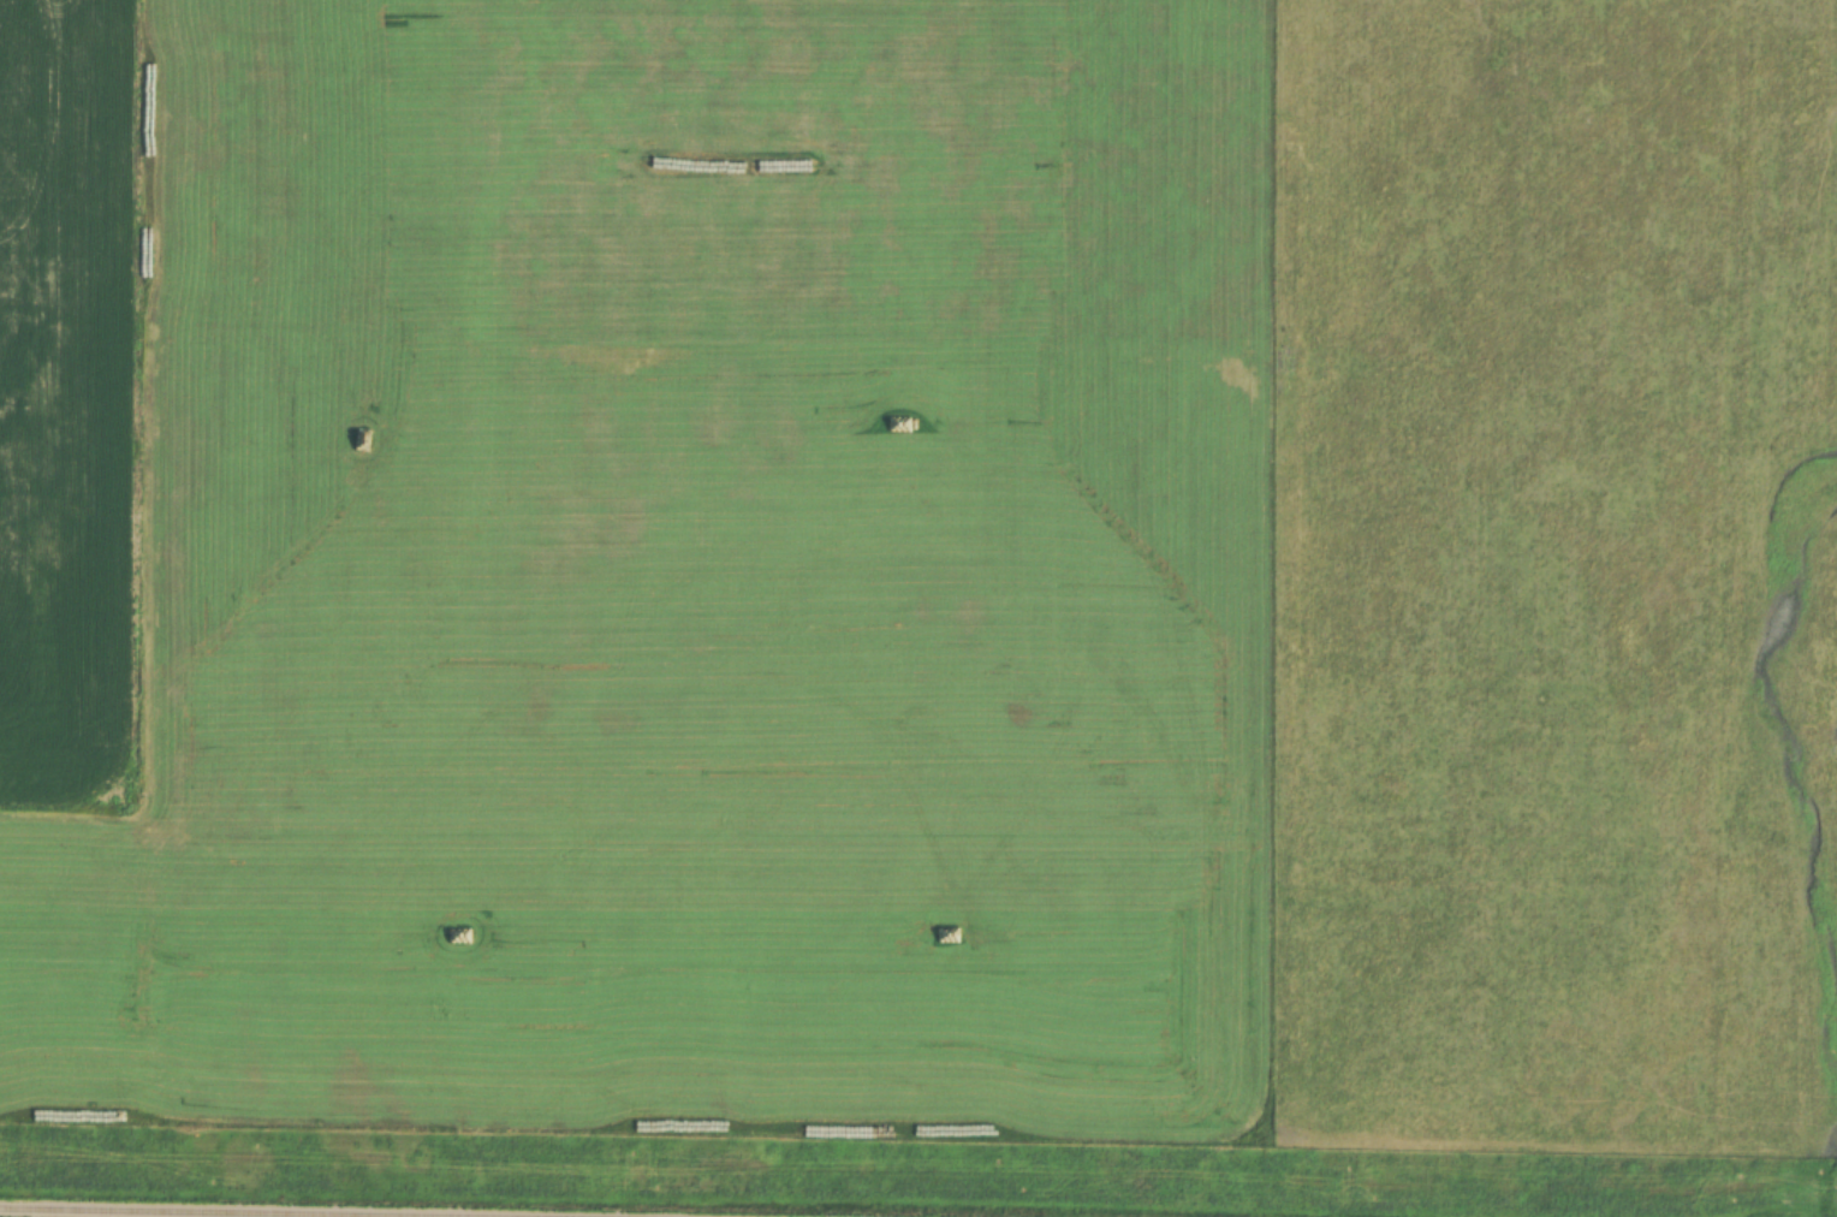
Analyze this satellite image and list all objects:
railway: (186, 1213)

